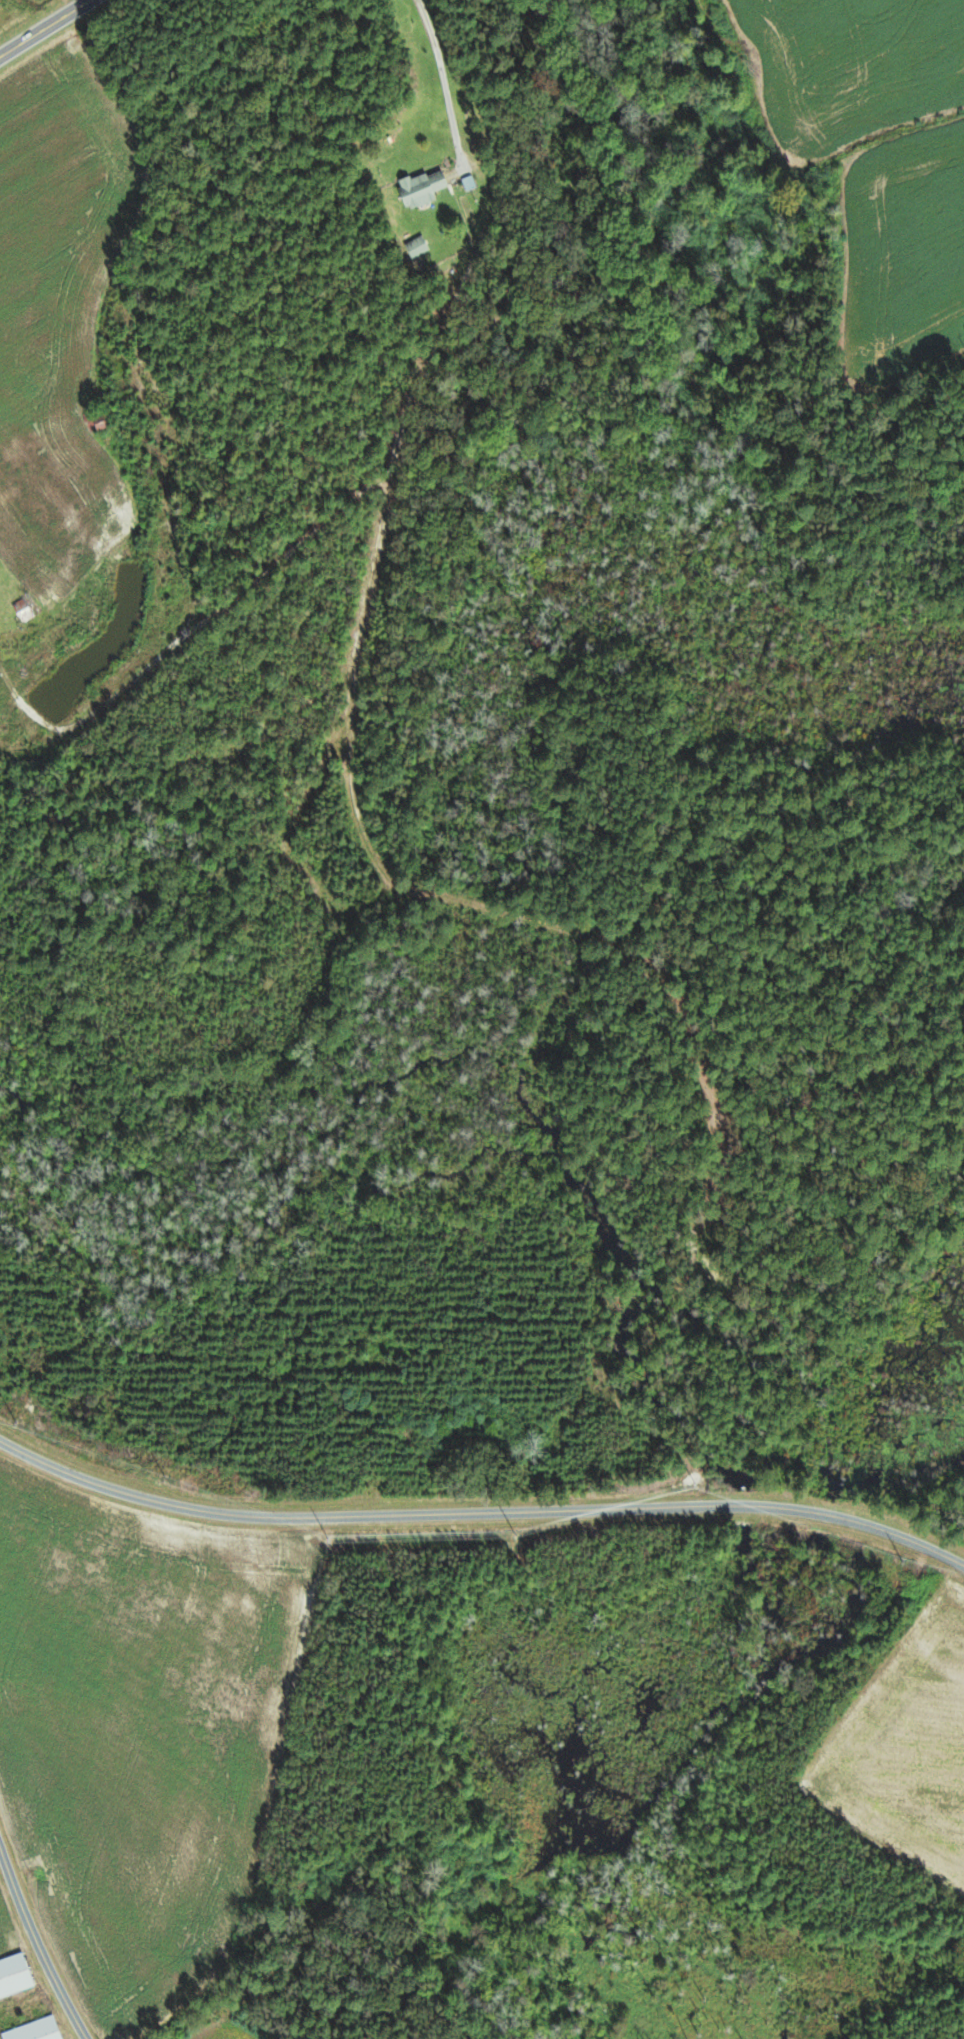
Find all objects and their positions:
road: (44, 27)
building: (424, 189)
building: (418, 249)
building: (92, 422)
building: (24, 611)
road: (480, 1514)
road: (38, 1948)
building: (16, 1978)
building: (37, 2031)

